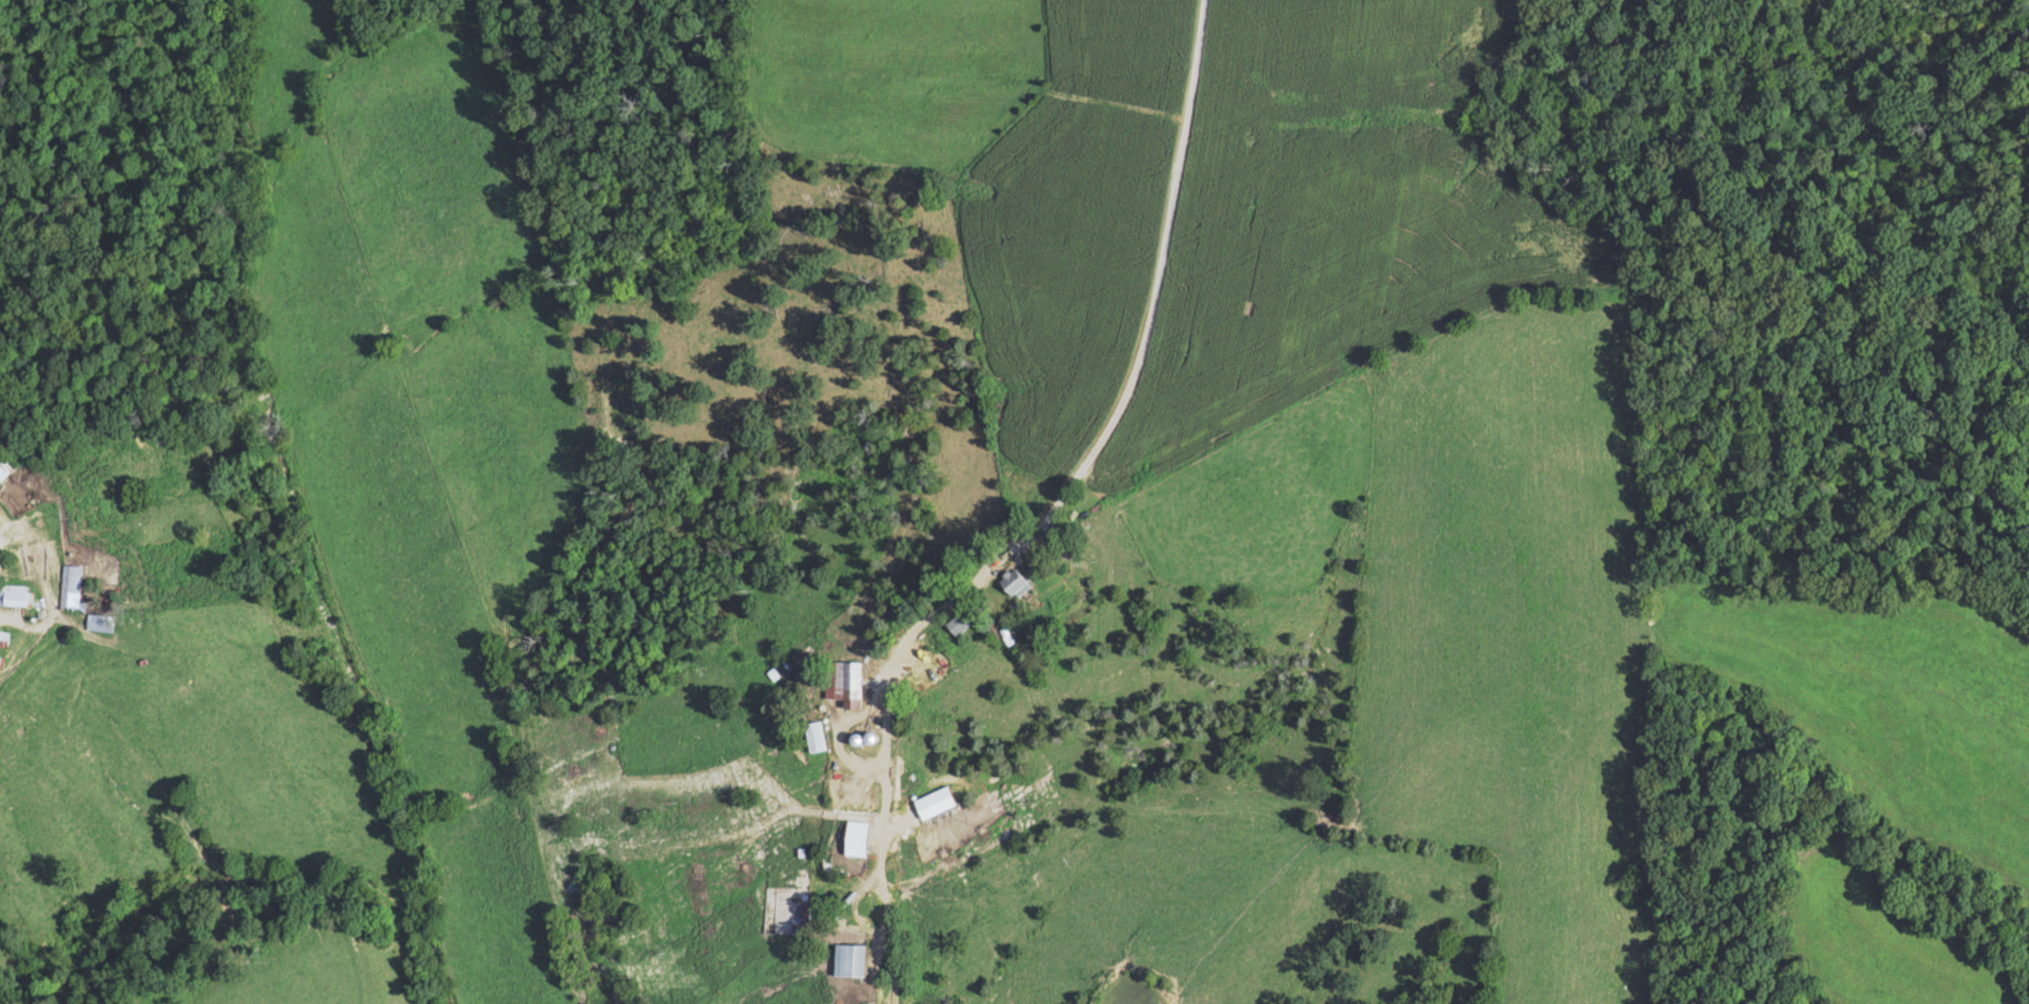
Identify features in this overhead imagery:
road: (1099, 436)
building: (5, 467)
building: (1015, 581)
building: (74, 586)
building: (17, 595)
building: (961, 621)
building: (104, 623)
building: (5, 638)
building: (844, 682)
building: (815, 736)
building: (859, 833)
building: (798, 925)
building: (851, 959)

